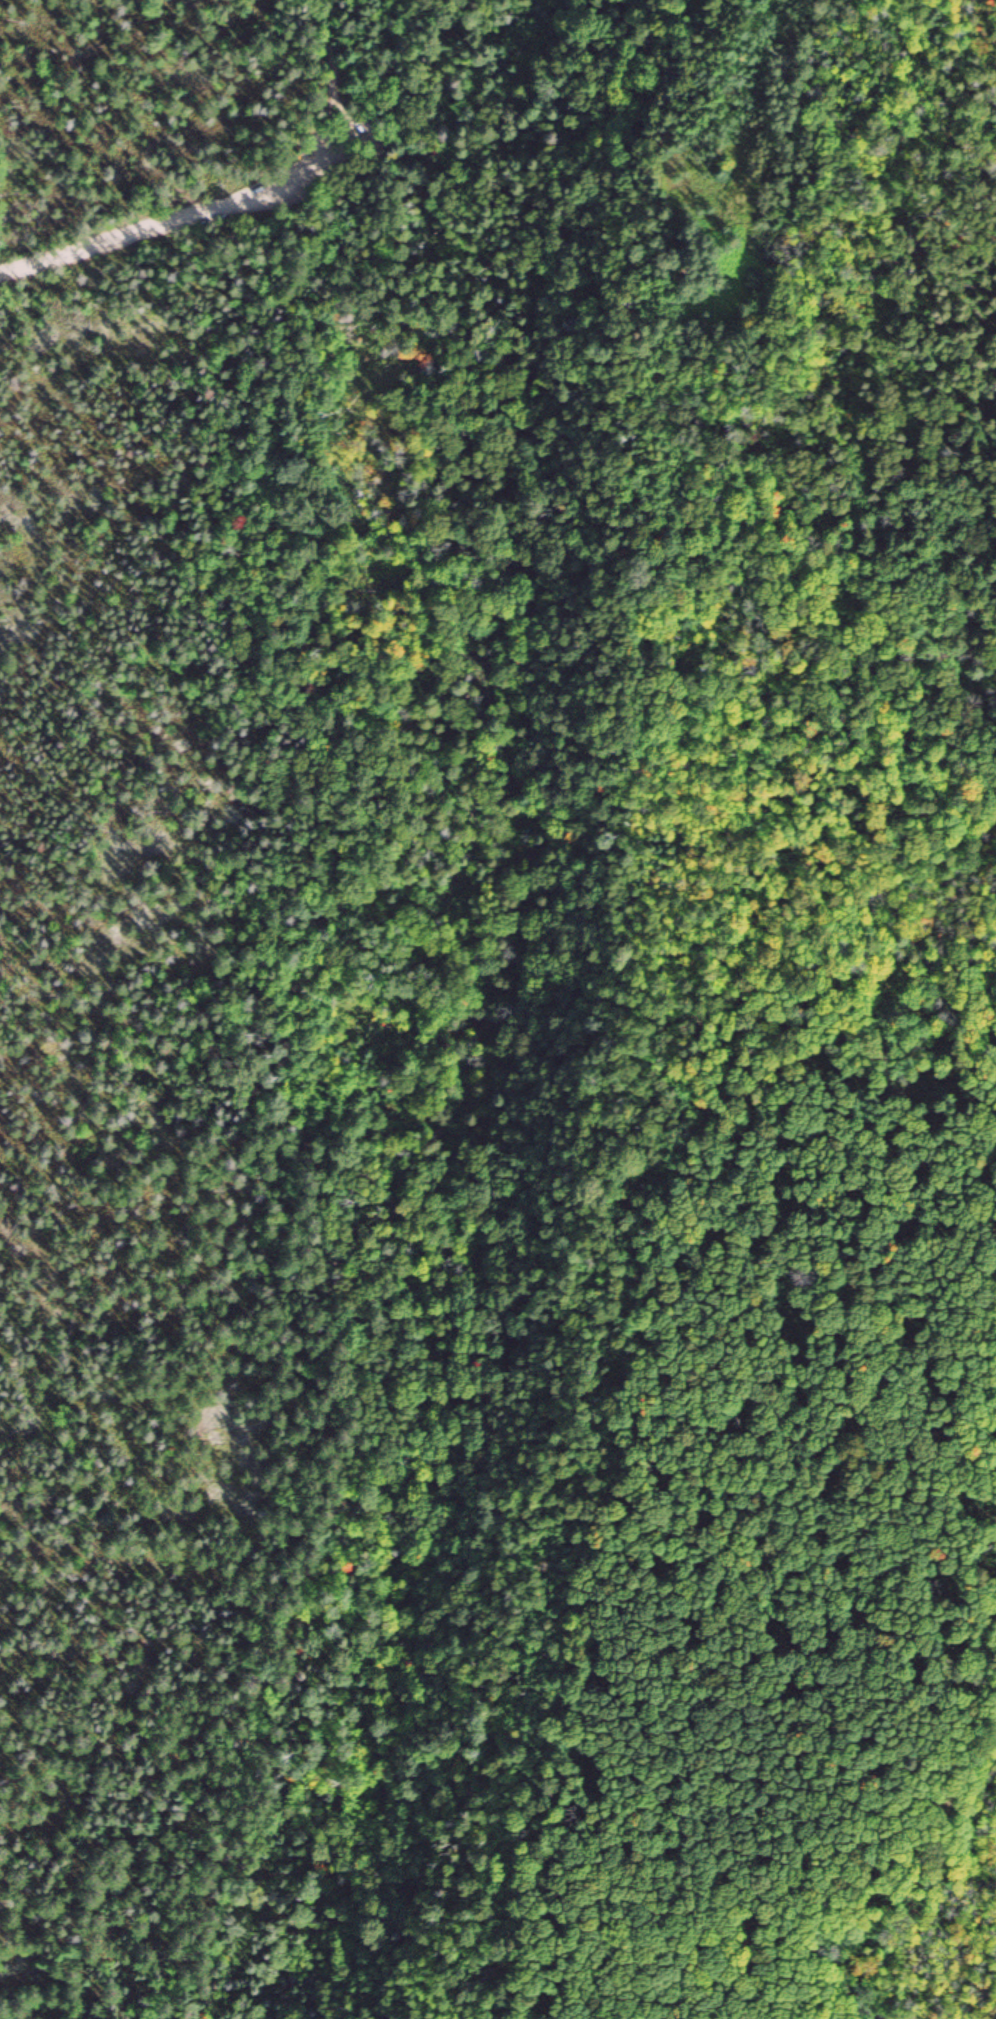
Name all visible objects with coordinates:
road: (334, 68)
road: (671, 148)
parking lot: (332, 159)
road: (555, 168)
road: (163, 219)
road: (112, 800)

